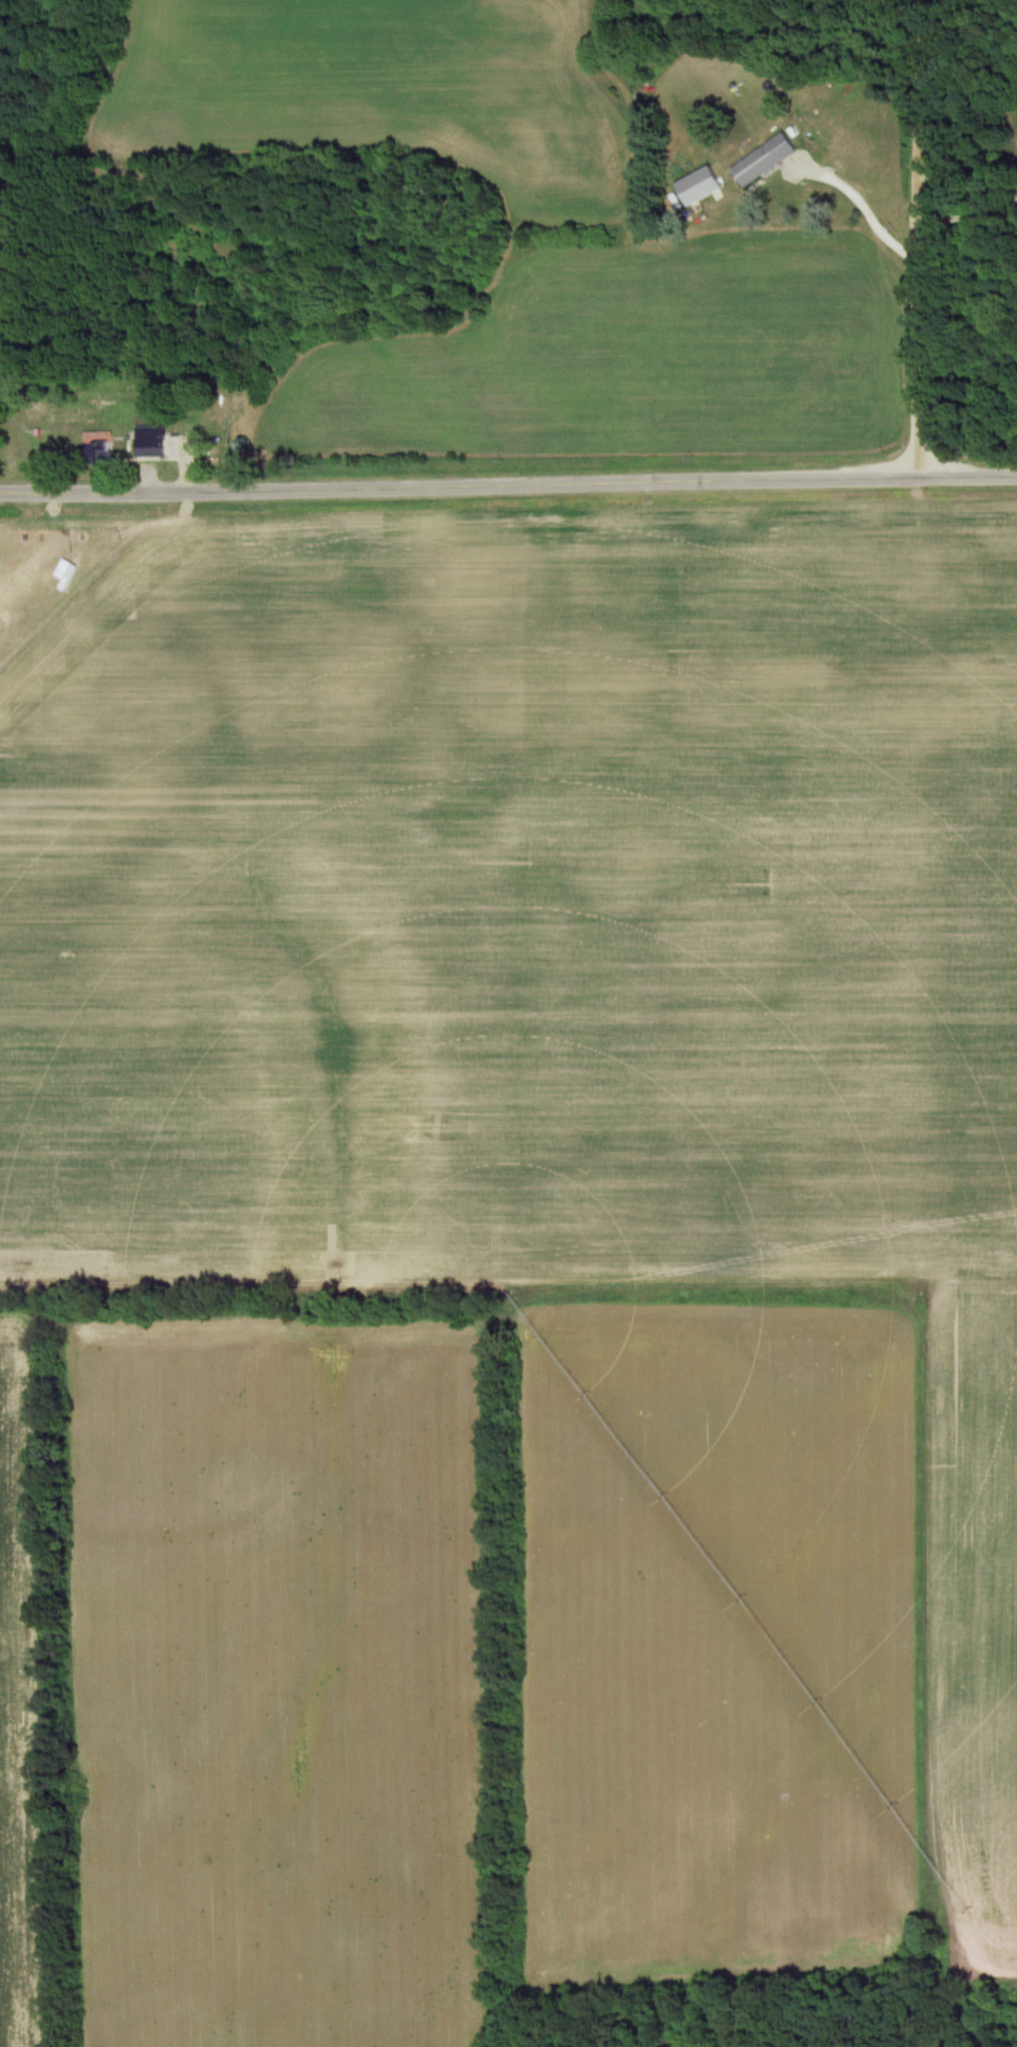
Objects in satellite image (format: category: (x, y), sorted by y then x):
building: (766, 160)
road: (867, 201)
road: (924, 240)
building: (152, 446)
building: (98, 454)
road: (508, 490)

